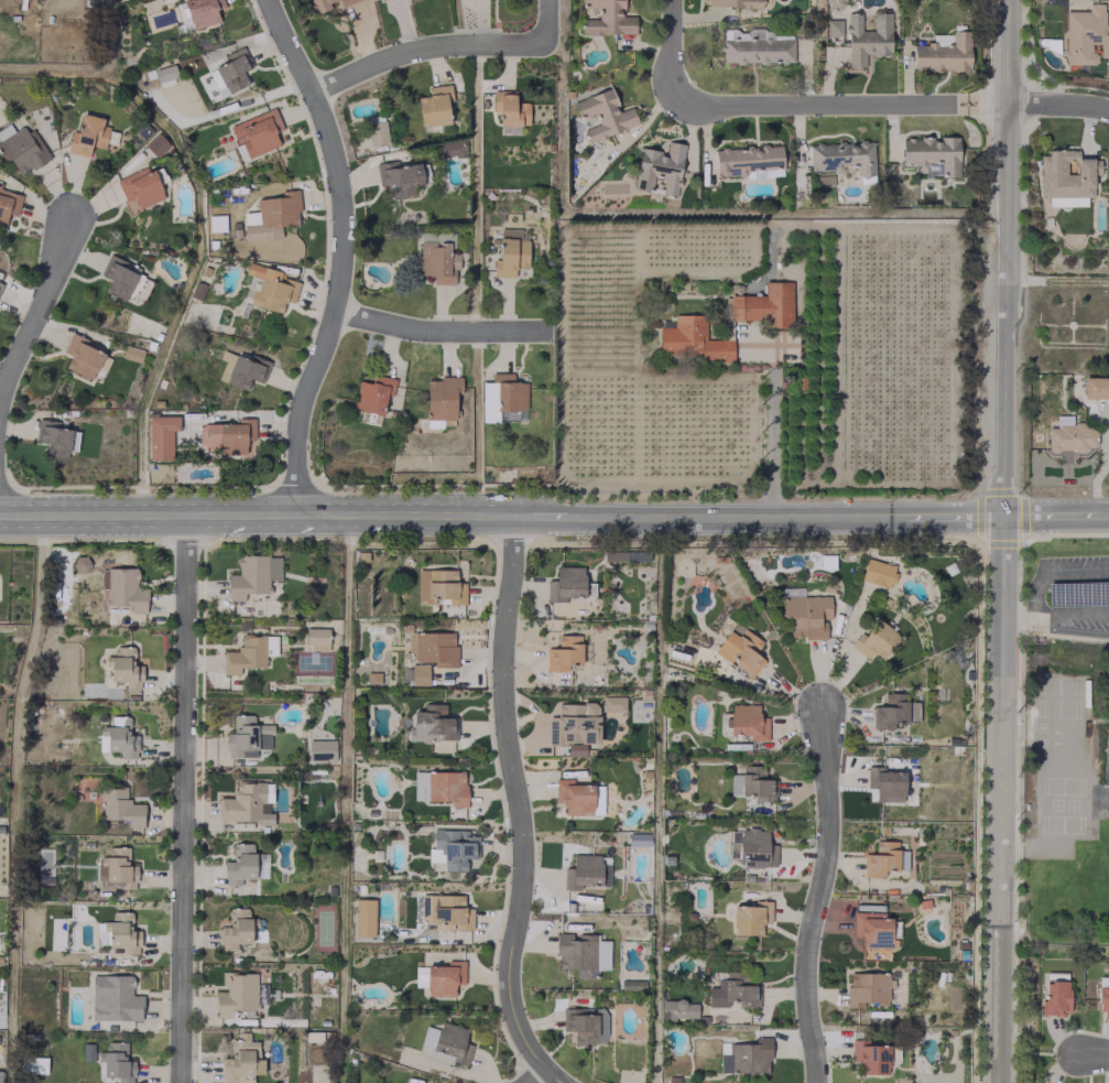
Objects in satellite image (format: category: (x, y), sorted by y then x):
building: (345, 1)
building: (735, 2)
building: (835, 3)
building: (319, 4)
building: (202, 11)
building: (607, 18)
road: (543, 19)
building: (833, 28)
building: (1085, 35)
building: (867, 37)
road: (422, 46)
building: (759, 48)
road: (671, 52)
building: (943, 52)
building: (232, 69)
building: (164, 72)
building: (216, 83)
road: (1058, 100)
road: (990, 102)
building: (434, 105)
road: (824, 105)
building: (602, 112)
building: (257, 131)
building: (376, 132)
building: (86, 134)
building: (155, 144)
building: (21, 148)
building: (932, 152)
building: (841, 155)
building: (746, 160)
building: (659, 167)
building: (398, 175)
building: (1066, 176)
building: (139, 188)
building: (8, 204)
building: (271, 216)
road: (341, 250)
building: (510, 252)
road: (1004, 258)
building: (437, 261)
building: (120, 277)
building: (0, 282)
building: (270, 288)
road: (36, 310)
building: (726, 323)
road: (443, 327)
building: (131, 353)
building: (80, 356)
building: (244, 370)
building: (1095, 387)
building: (372, 393)
building: (501, 396)
building: (441, 400)
road: (770, 426)
building: (53, 436)
building: (160, 436)
building: (227, 436)
building: (1069, 436)
road: (258, 511)
road: (1107, 515)
road: (546, 516)
road: (1053, 516)
road: (733, 517)
road: (946, 517)
building: (634, 555)
building: (80, 563)
building: (877, 572)
building: (252, 575)
building: (565, 583)
building: (438, 586)
building: (122, 588)
road: (1054, 613)
building: (806, 615)
road: (1066, 630)
building: (316, 638)
building: (874, 640)
building: (433, 647)
building: (563, 651)
building: (740, 651)
building: (126, 667)
building: (418, 673)
building: (612, 703)
building: (893, 711)
building: (747, 721)
building: (573, 723)
building: (432, 724)
building: (247, 736)
building: (117, 737)
building: (320, 749)
building: (755, 782)
building: (884, 783)
building: (420, 784)
building: (446, 787)
road: (519, 797)
road: (184, 798)
building: (576, 798)
road: (998, 800)
building: (248, 803)
building: (120, 806)
building: (638, 838)
building: (751, 846)
building: (449, 849)
building: (880, 858)
building: (239, 864)
building: (117, 867)
building: (581, 870)
road: (819, 895)
building: (444, 911)
building: (749, 918)
building: (236, 929)
building: (122, 932)
building: (873, 932)
building: (581, 953)
building: (444, 977)
building: (867, 987)
building: (731, 990)
building: (1054, 993)
building: (239, 995)
building: (1103, 997)
building: (113, 998)
building: (677, 1009)
building: (585, 1024)
building: (452, 1043)
road: (1094, 1053)
building: (746, 1057)
building: (869, 1057)
building: (241, 1060)
building: (116, 1062)
building: (32, 1064)
road: (536, 1075)
road: (554, 1075)

